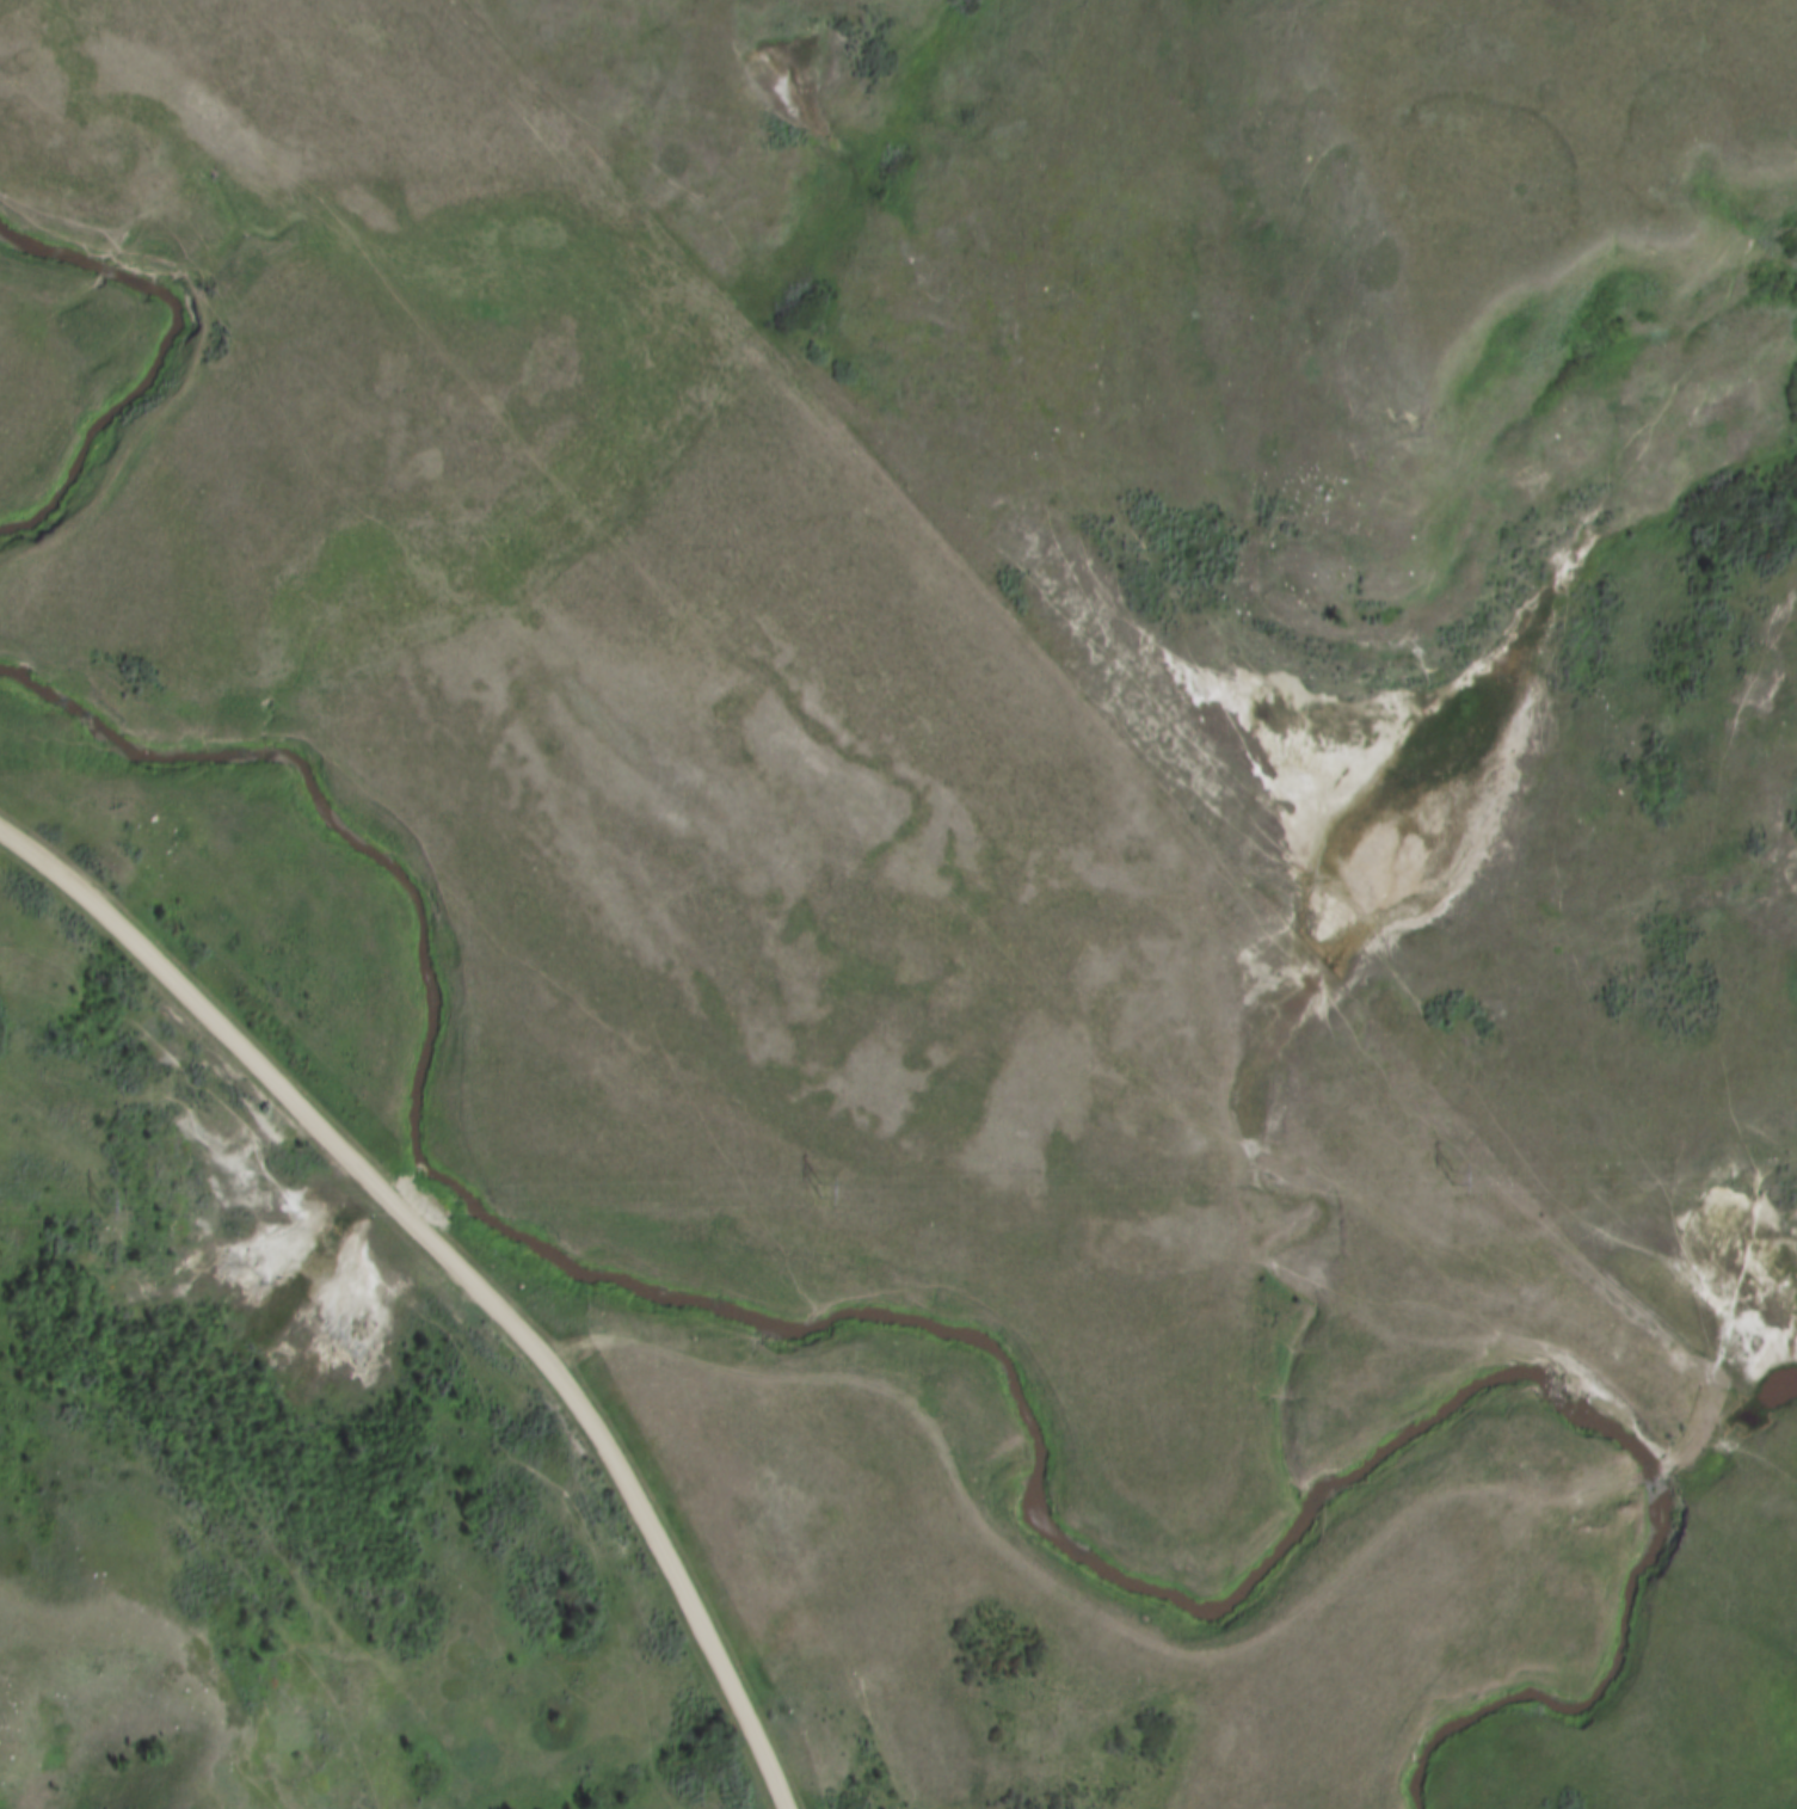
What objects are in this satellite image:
road: (457, 1269)
road: (1137, 1638)

